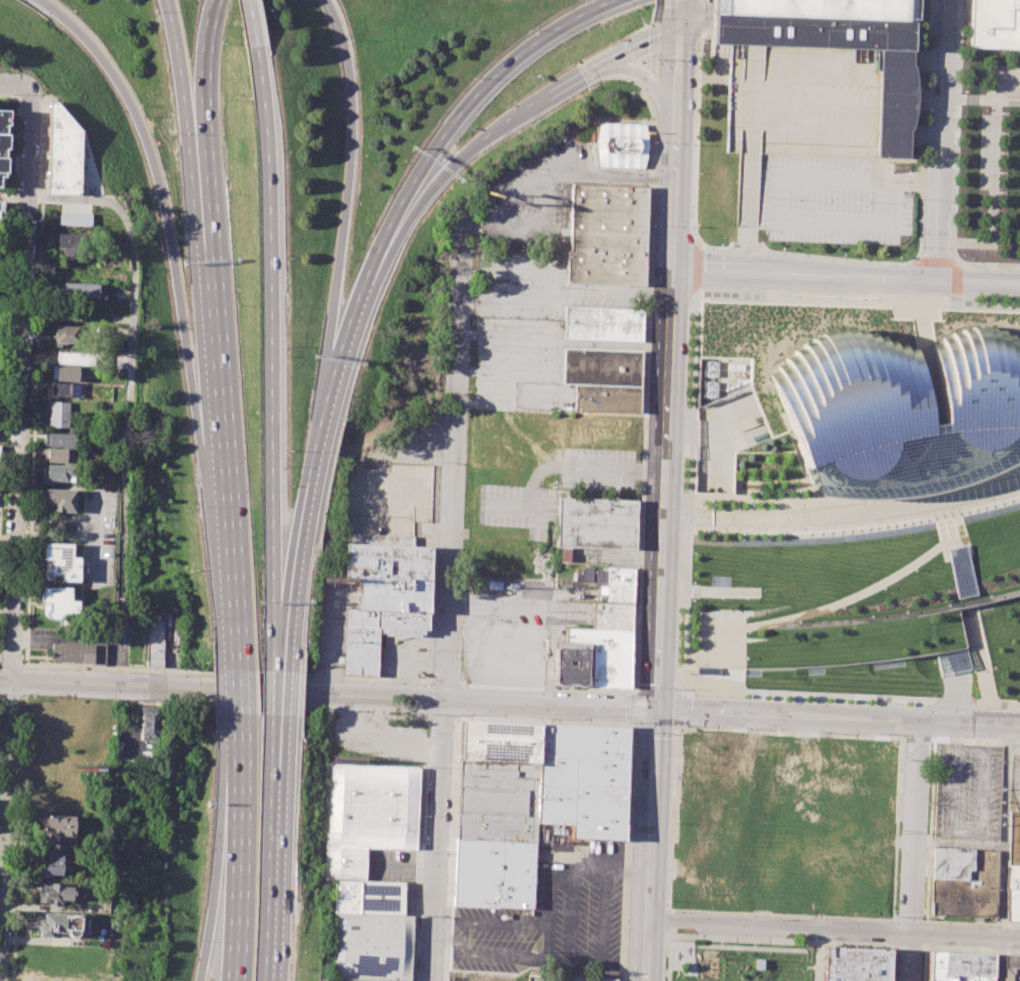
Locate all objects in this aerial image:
road: (656, 2)
road: (680, 2)
road: (929, 10)
road: (654, 12)
street lamp: (657, 18)
building: (996, 23)
road: (253, 24)
road: (694, 25)
traffic signals: (679, 30)
road: (653, 38)
building: (837, 46)
road: (687, 49)
road: (606, 63)
road: (650, 75)
road: (648, 79)
road: (16, 82)
road: (985, 91)
street lamp: (11, 93)
street lamp: (40, 100)
parking lot: (802, 100)
road: (988, 101)
road: (1013, 102)
road: (205, 103)
road: (185, 104)
road: (470, 105)
road: (507, 123)
building: (3, 137)
road: (939, 138)
street lamp: (654, 142)
street lamp: (693, 144)
building: (621, 145)
road: (695, 146)
building: (62, 151)
road: (990, 151)
road: (614, 177)
road: (884, 180)
road: (952, 180)
street lamp: (37, 186)
road: (347, 189)
road: (991, 191)
road: (13, 195)
road: (748, 195)
street lamp: (869, 198)
street lamp: (918, 198)
parking lot: (829, 199)
road: (424, 200)
parking lot: (534, 200)
street lamp: (797, 200)
building: (0, 213)
road: (779, 216)
road: (167, 217)
building: (74, 219)
street lamp: (651, 226)
street lamp: (692, 226)
building: (606, 235)
building: (71, 244)
street lamp: (719, 245)
street lamp: (915, 246)
street lamp: (780, 249)
road: (919, 252)
street lamp: (840, 255)
street lamp: (897, 258)
road: (934, 261)
street lamp: (966, 261)
road: (987, 266)
road: (696, 267)
street lamp: (35, 271)
road: (846, 273)
street lamp: (445, 281)
road: (955, 282)
parking lot: (534, 286)
road: (709, 286)
building: (76, 289)
road: (611, 293)
street lamp: (785, 295)
street lamp: (824, 295)
road: (7, 296)
street lamp: (860, 296)
street lamp: (897, 296)
road: (534, 297)
street lamp: (942, 298)
road: (801, 299)
road: (948, 300)
street lamp: (984, 302)
street lamp: (1008, 302)
road: (934, 304)
road: (987, 306)
building: (67, 312)
street lamp: (690, 312)
road: (349, 321)
building: (603, 324)
building: (63, 335)
road: (270, 336)
building: (117, 345)
road: (573, 345)
building: (73, 357)
parking lot: (515, 357)
building: (116, 358)
road: (694, 358)
road: (922, 362)
building: (602, 367)
road: (477, 368)
road: (465, 369)
street lamp: (441, 372)
building: (64, 373)
street lamp: (30, 379)
road: (644, 388)
building: (65, 389)
building: (710, 389)
road: (130, 396)
building: (608, 398)
street lamp: (687, 398)
building: (902, 411)
building: (58, 414)
road: (221, 438)
parking lot: (413, 439)
building: (61, 440)
building: (56, 455)
street lamp: (439, 462)
parking lot: (599, 469)
building: (56, 472)
road: (990, 475)
street lamp: (27, 485)
street lamp: (684, 488)
road: (665, 493)
parking lot: (387, 497)
road: (848, 497)
building: (58, 498)
road: (306, 503)
parking lot: (518, 507)
road: (844, 513)
building: (595, 523)
road: (951, 527)
road: (13, 535)
street lamp: (692, 551)
building: (502, 553)
building: (564, 554)
street lamp: (436, 555)
road: (688, 555)
building: (60, 561)
building: (387, 562)
road: (432, 573)
street lamp: (23, 579)
street lamp: (681, 580)
street lamp: (692, 581)
building: (612, 582)
building: (494, 584)
parking lot: (581, 591)
parking lot: (850, 591)
building: (392, 595)
street lamp: (721, 600)
street lamp: (750, 600)
parking lot: (508, 602)
building: (58, 603)
road: (446, 603)
street lamp: (693, 603)
road: (831, 605)
parking lot: (572, 617)
parking lot: (333, 622)
building: (375, 635)
road: (328, 639)
building: (155, 643)
building: (608, 644)
road: (280, 648)
street lamp: (433, 650)
building: (78, 653)
road: (407, 653)
parking lot: (407, 658)
road: (10, 663)
building: (572, 663)
road: (983, 668)
street lamp: (678, 670)
road: (226, 673)
road: (445, 684)
road: (957, 686)
road: (545, 687)
road: (712, 690)
road: (236, 691)
road: (280, 693)
road: (329, 694)
street lamp: (693, 695)
road: (834, 695)
street lamp: (728, 697)
street lamp: (756, 698)
street lamp: (795, 700)
road: (956, 700)
street lamp: (818, 701)
road: (982, 701)
street lamp: (860, 702)
street lamp: (895, 705)
street lamp: (925, 705)
road: (273, 707)
road: (1006, 707)
street lamp: (327, 708)
street lamp: (985, 708)
traffic signals: (658, 709)
street lamp: (383, 712)
street lamp: (460, 715)
road: (442, 716)
street lamp: (548, 717)
road: (838, 719)
road: (542, 720)
street lamp: (626, 721)
building: (151, 724)
street lamp: (18, 726)
road: (679, 727)
street lamp: (674, 734)
street lamp: (426, 735)
road: (953, 735)
road: (883, 736)
parking lot: (380, 737)
road: (917, 737)
road: (384, 738)
road: (976, 738)
building: (497, 742)
road: (237, 747)
street lamp: (968, 757)
building: (581, 778)
parking lot: (1015, 779)
street lamp: (967, 787)
parking lot: (968, 790)
building: (496, 800)
building: (373, 806)
street lamp: (424, 815)
street lamp: (966, 817)
street lamp: (669, 822)
road: (949, 823)
street lamp: (14, 826)
building: (56, 827)
road: (929, 830)
road: (1004, 830)
street lamp: (899, 831)
road: (276, 848)
road: (420, 848)
road: (451, 849)
road: (913, 850)
road: (626, 855)
road: (1, 862)
building: (51, 863)
building: (347, 863)
road: (562, 870)
road: (589, 871)
building: (494, 872)
road: (217, 881)
road: (237, 881)
building: (962, 883)
building: (53, 893)
building: (1013, 893)
road: (549, 896)
building: (369, 897)
street lamp: (667, 899)
parking lot: (578, 906)
road: (669, 910)
road: (695, 910)
street lamp: (747, 914)
street lamp: (896, 914)
street lamp: (419, 915)
road: (572, 915)
road: (603, 916)
street lamp: (826, 917)
road: (669, 919)
road: (910, 920)
road: (510, 922)
road: (972, 922)
building: (62, 924)
street lamp: (973, 924)
road: (462, 927)
road: (833, 929)
street lamp: (9, 932)
road: (446, 937)
parking lot: (491, 937)
street lamp: (667, 939)
road: (780, 939)
road: (547, 940)
street lamp: (699, 940)
road: (722, 941)
street lamp: (725, 941)
street lamp: (758, 942)
road: (755, 943)
street lamp: (794, 944)
road: (909, 945)
building: (371, 946)
road: (751, 947)
road: (924, 947)
road: (956, 949)
road: (817, 955)
road: (498, 956)
road: (669, 958)
road: (997, 958)
road: (574, 960)
park: (739, 961)
road: (890, 962)
road: (721, 963)
building: (852, 964)
road: (767, 965)
road: (795, 966)
building: (961, 966)
building: (1011, 968)
building: (598, 978)

